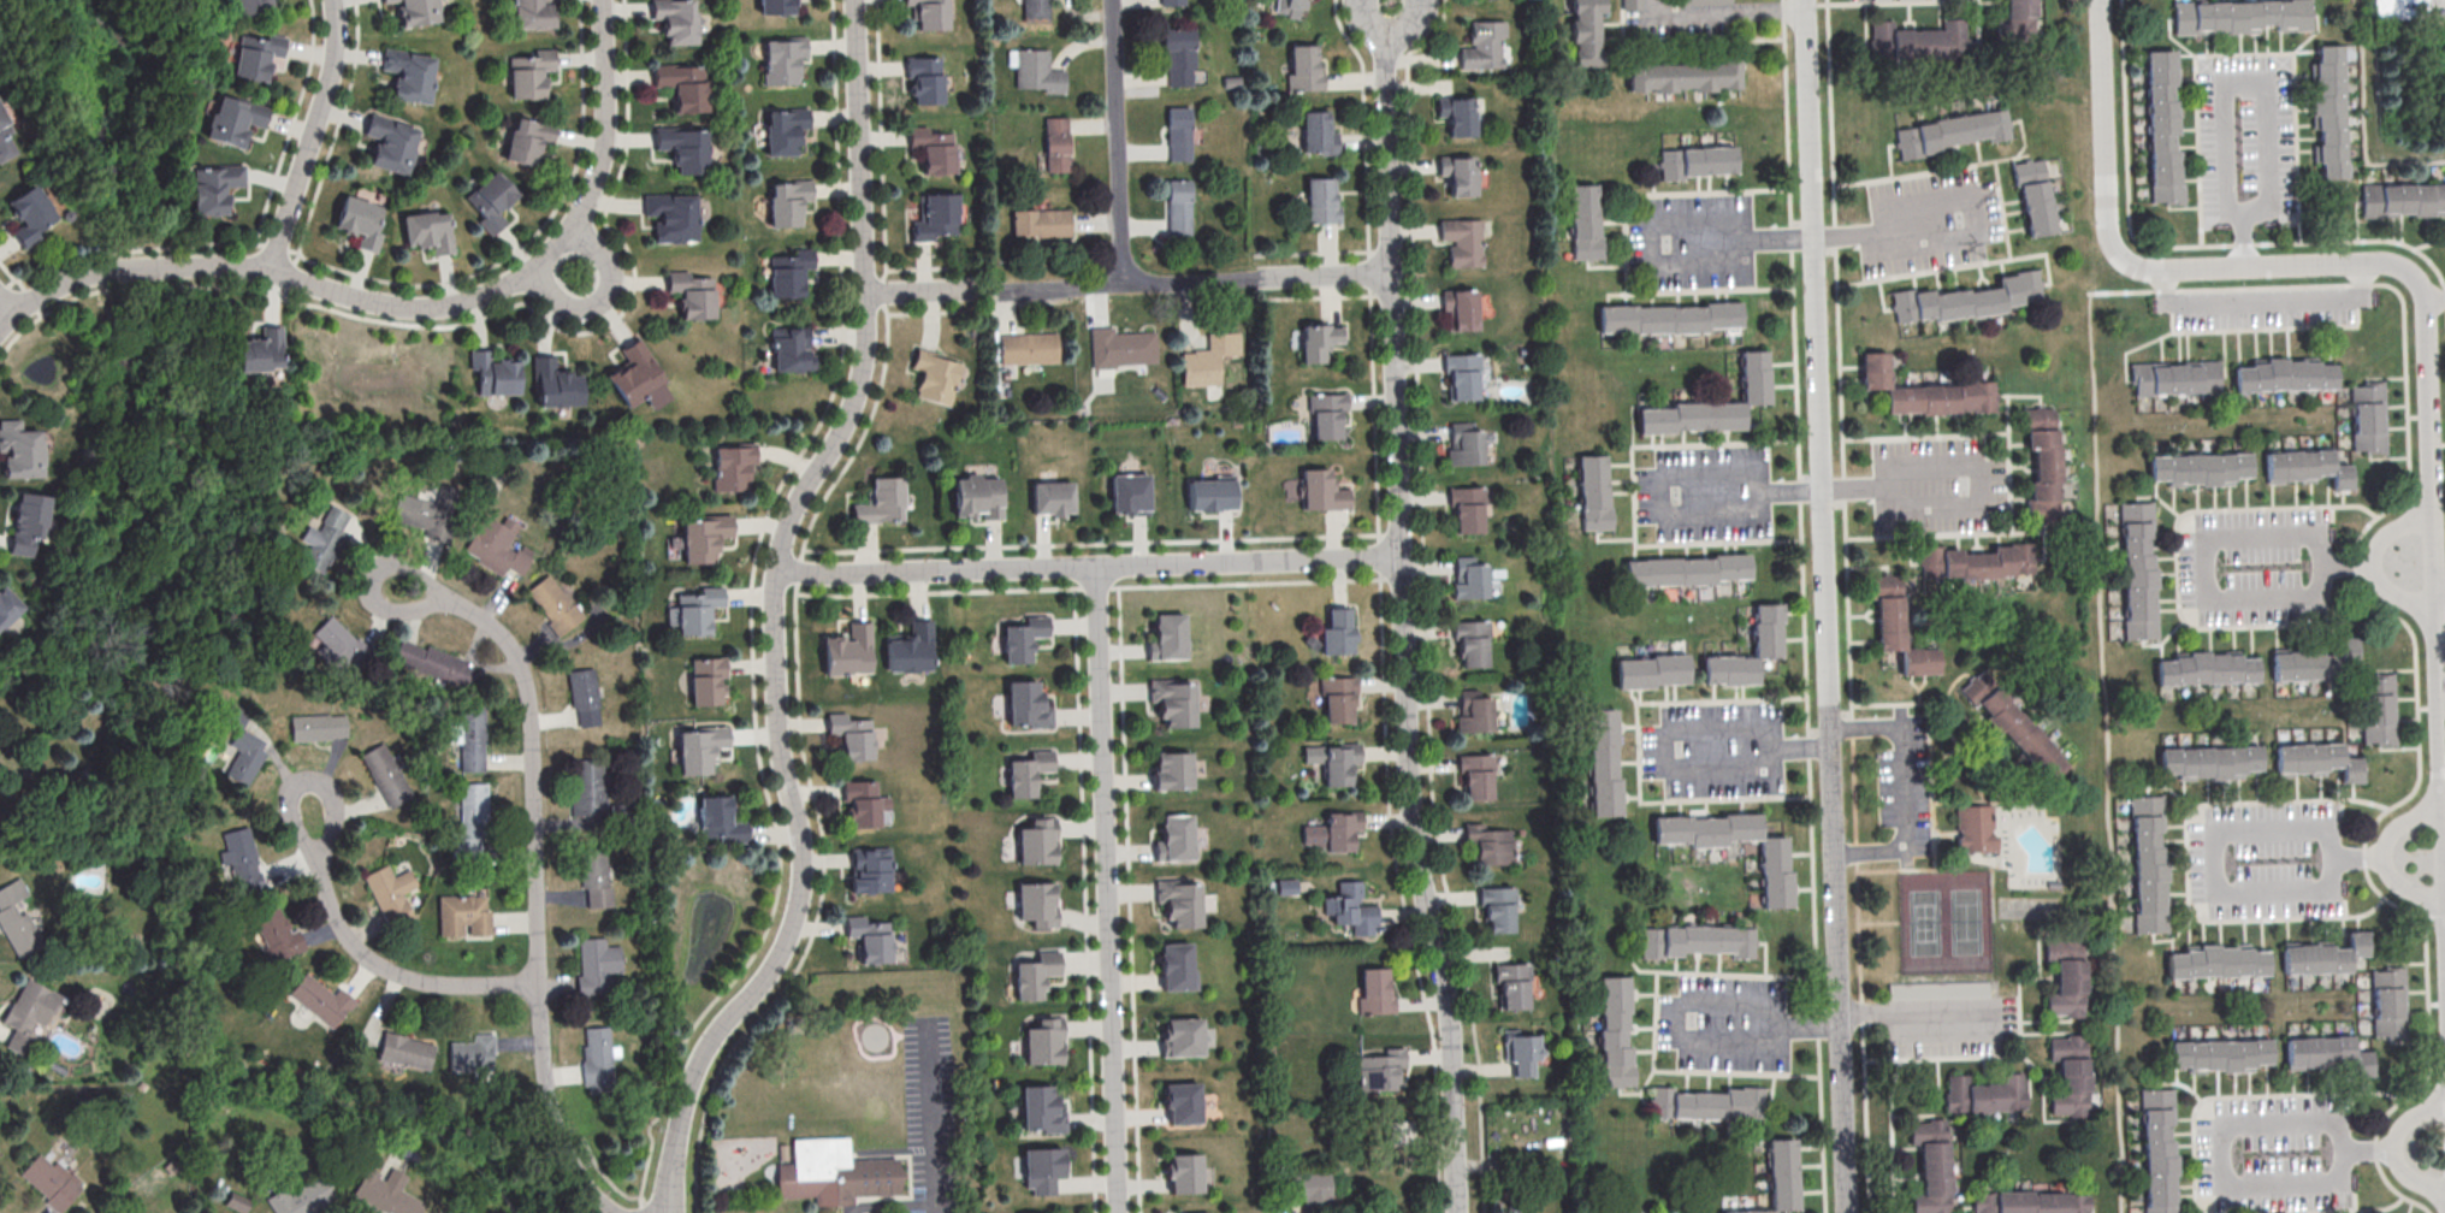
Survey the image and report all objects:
building: (387, 0)
building: (1704, 1)
building: (1172, 2)
building: (249, 5)
building: (1632, 5)
road: (1656, 5)
building: (774, 6)
building: (1036, 8)
road: (1731, 11)
building: (416, 12)
building: (533, 13)
building: (928, 13)
building: (2239, 16)
building: (674, 20)
building: (2015, 20)
building: (1585, 31)
building: (1918, 41)
building: (1482, 45)
building: (256, 54)
building: (1179, 57)
building: (781, 61)
building: (1304, 70)
building: (1037, 72)
building: (409, 73)
building: (528, 73)
building: (1683, 76)
building: (923, 81)
building: (682, 85)
building: (2326, 111)
building: (1457, 116)
building: (235, 119)
road: (1363, 122)
building: (2160, 128)
building: (785, 131)
building: (1952, 131)
building: (1178, 134)
building: (1316, 134)
road: (312, 135)
building: (5, 138)
building: (527, 141)
road: (1120, 141)
building: (391, 143)
building: (1055, 144)
road: (2210, 147)
building: (682, 149)
building: (933, 150)
building: (1697, 161)
road: (2266, 170)
building: (1457, 176)
building: (215, 187)
building: (2035, 194)
building: (492, 200)
building: (2402, 200)
building: (1319, 202)
building: (788, 203)
building: (1178, 208)
building: (29, 213)
building: (936, 217)
building: (671, 218)
building: (361, 220)
building: (1585, 221)
building: (1041, 223)
building: (428, 230)
road: (1973, 237)
road: (2314, 242)
building: (1461, 243)
road: (2428, 243)
road: (1658, 266)
building: (789, 273)
road: (1200, 282)
road: (993, 288)
road: (920, 291)
building: (691, 296)
road: (606, 297)
building: (1969, 298)
road: (2262, 298)
road: (2435, 300)
road: (6, 303)
road: (404, 304)
building: (1458, 309)
building: (1668, 318)
road: (2427, 320)
building: (1320, 339)
building: (791, 348)
building: (1121, 348)
building: (1028, 349)
building: (262, 350)
building: (1207, 360)
building: (495, 373)
building: (1461, 374)
building: (935, 375)
building: (2281, 377)
building: (638, 378)
building: (2173, 378)
building: (555, 383)
building: (1925, 391)
building: (1711, 404)
building: (1325, 415)
building: (2367, 418)
building: (1463, 445)
building: (19, 450)
building: (2042, 465)
building: (733, 466)
building: (2304, 468)
road: (1671, 469)
building: (2198, 469)
road: (1375, 489)
building: (1321, 490)
building: (1594, 492)
building: (1129, 493)
building: (1212, 493)
building: (977, 497)
building: (1053, 497)
building: (881, 501)
road: (1973, 503)
building: (1464, 508)
road: (2195, 510)
road: (1821, 514)
building: (426, 516)
building: (26, 522)
building: (703, 538)
building: (325, 539)
road: (2208, 540)
road: (1089, 544)
building: (497, 548)
road: (1248, 561)
building: (1976, 561)
road: (2374, 562)
building: (2136, 567)
building: (1687, 569)
road: (935, 570)
building: (1468, 579)
road: (1096, 587)
road: (2440, 587)
road: (911, 593)
road: (1423, 599)
building: (7, 605)
road: (1804, 605)
building: (555, 606)
road: (1847, 606)
road: (1403, 608)
building: (698, 611)
road: (775, 615)
building: (1898, 626)
building: (1768, 629)
building: (1338, 632)
building: (1166, 639)
building: (1022, 640)
building: (338, 644)
building: (1469, 645)
building: (908, 650)
building: (847, 652)
building: (436, 663)
building: (2313, 664)
building: (1730, 669)
building: (2203, 669)
building: (1652, 670)
building: (706, 680)
building: (584, 697)
building: (1338, 698)
building: (1171, 703)
road: (2416, 703)
building: (1025, 706)
building: (2376, 710)
building: (1473, 714)
building: (2013, 723)
building: (319, 726)
road: (1675, 726)
building: (469, 736)
building: (851, 738)
building: (699, 750)
road: (528, 752)
building: (245, 755)
building: (1333, 761)
building: (2208, 762)
building: (2314, 762)
building: (1603, 763)
building: (1170, 773)
building: (1025, 774)
building: (386, 775)
building: (1476, 775)
building: (588, 787)
road: (1905, 788)
building: (859, 804)
road: (2207, 804)
building: (470, 821)
building: (718, 823)
building: (1975, 828)
building: (1706, 829)
building: (1333, 832)
road: (2209, 836)
building: (1172, 840)
building: (1035, 842)
building: (1490, 844)
road: (2384, 854)
building: (242, 858)
building: (2147, 864)
building: (869, 871)
building: (1775, 871)
building: (594, 878)
road: (2444, 881)
building: (1286, 886)
road: (1107, 889)
building: (391, 894)
building: (1177, 904)
building: (1035, 906)
building: (1498, 907)
building: (1350, 909)
building: (462, 916)
building: (18, 918)
park: (1925, 923)
park: (1967, 924)
building: (277, 933)
building: (870, 940)
building: (1697, 940)
building: (2321, 957)
road: (375, 963)
building: (2214, 964)
building: (597, 966)
building: (1174, 969)
building: (1034, 976)
building: (2066, 977)
building: (1514, 984)
building: (1938, 988)
building: (1375, 990)
road: (2426, 995)
building: (320, 1000)
building: (2386, 1002)
road: (1919, 1012)
building: (29, 1013)
building: (1616, 1031)
building: (1180, 1040)
road: (1686, 1041)
building: (1042, 1043)
building: (405, 1051)
building: (1521, 1051)
building: (470, 1054)
building: (2325, 1055)
building: (2218, 1057)
building: (598, 1060)
building: (1380, 1070)
building: (2070, 1073)
road: (2366, 1093)
building: (1984, 1094)
building: (1180, 1103)
building: (1709, 1103)
road: (549, 1108)
building: (1040, 1112)
road: (2409, 1116)
road: (1842, 1120)
road: (933, 1126)
road: (2218, 1129)
building: (1401, 1132)
building: (2157, 1149)
building: (785, 1150)
building: (1931, 1165)
building: (834, 1171)
building: (1041, 1171)
building: (1783, 1173)
building: (1183, 1174)
road: (2413, 1176)
building: (52, 1181)
building: (1309, 1187)
building: (384, 1193)
building: (301, 1197)
building: (237, 1201)
building: (2031, 1202)
road: (2414, 1203)
building: (1750, 1211)

